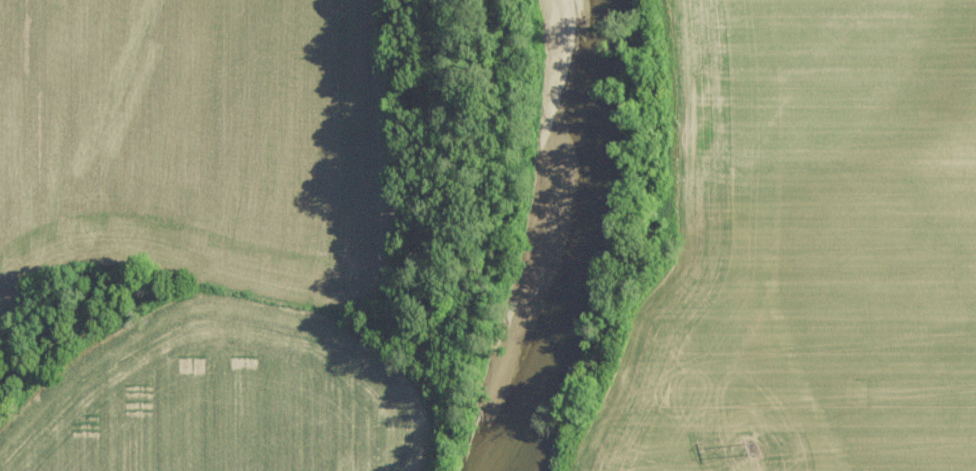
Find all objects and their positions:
river: (578, 240)

